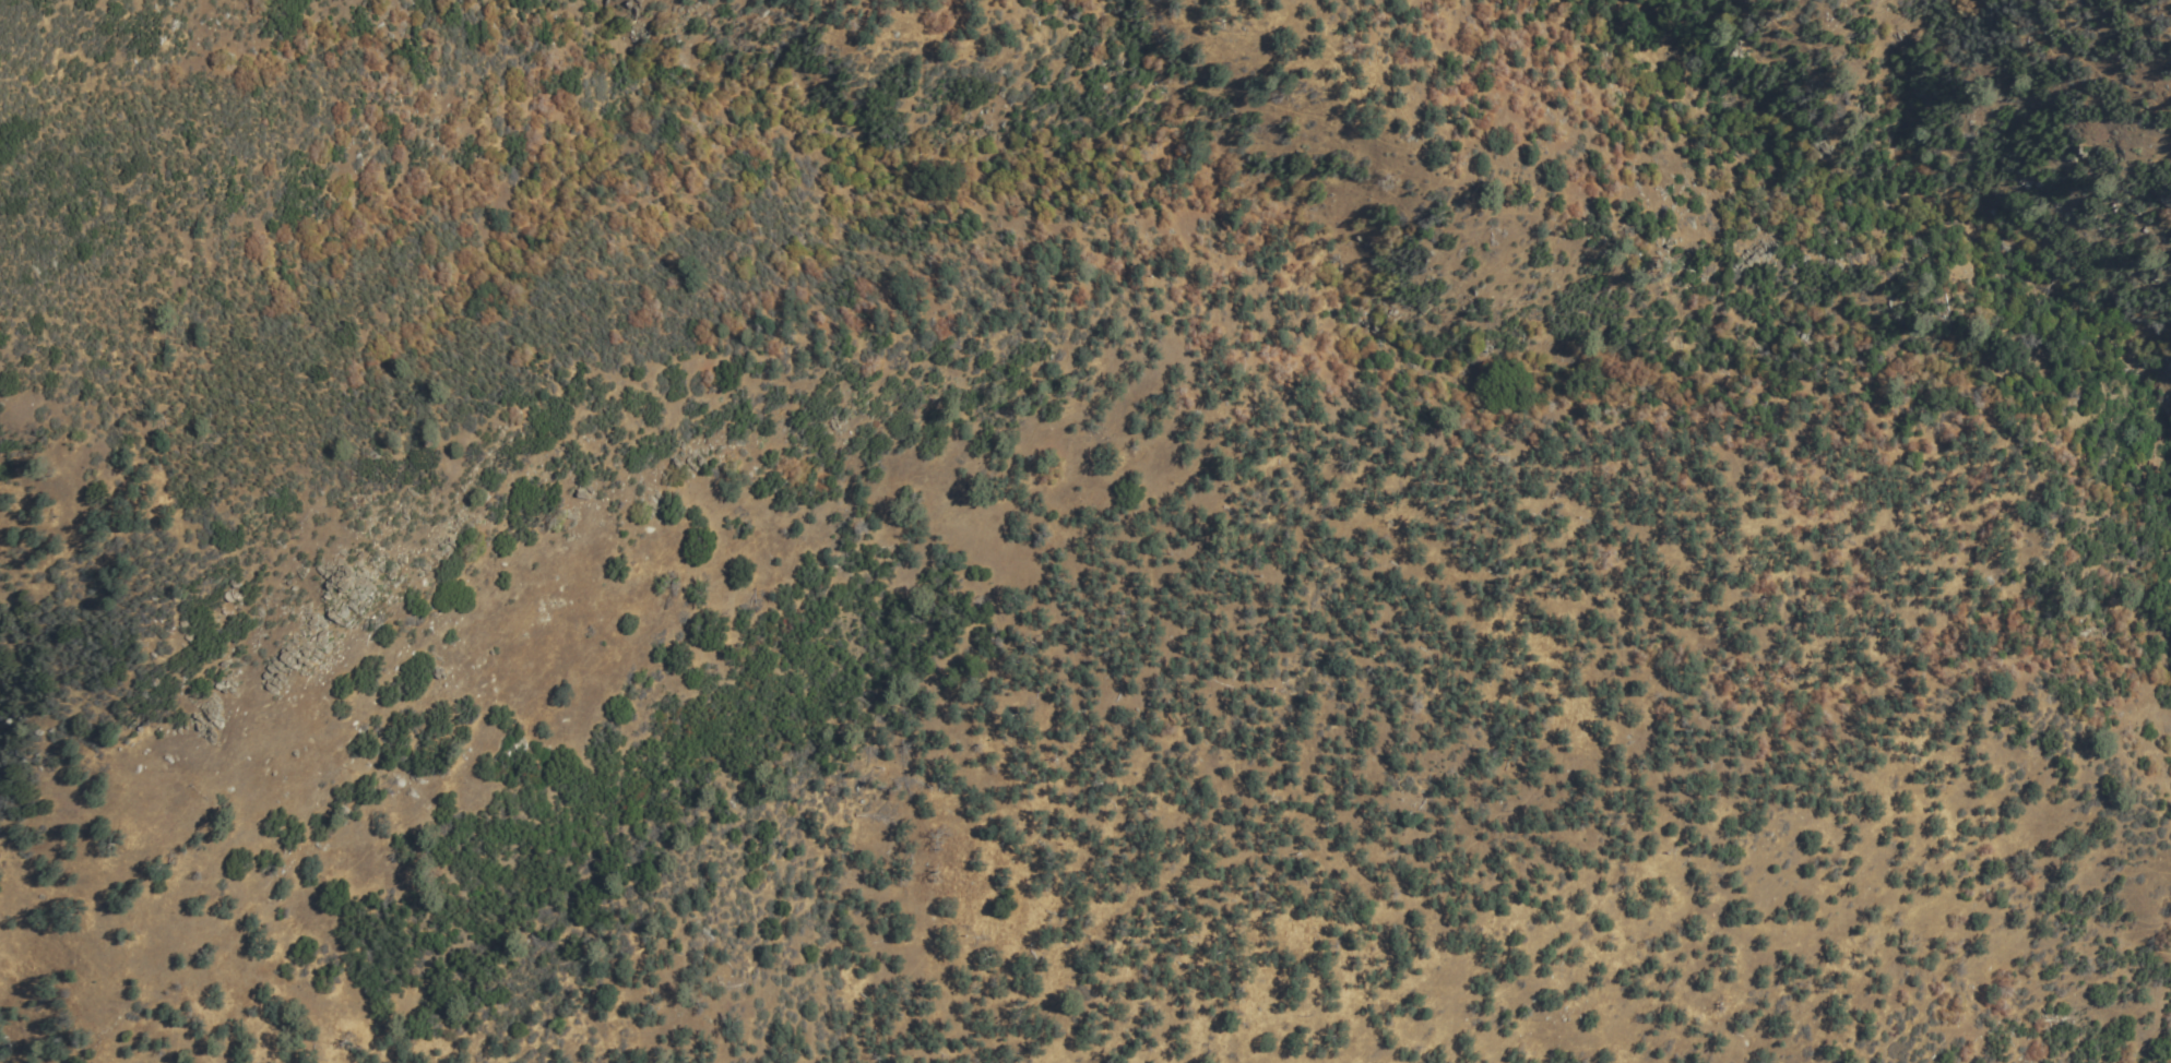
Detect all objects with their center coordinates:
road: (1227, 27)
road: (838, 38)
road: (1223, 386)

